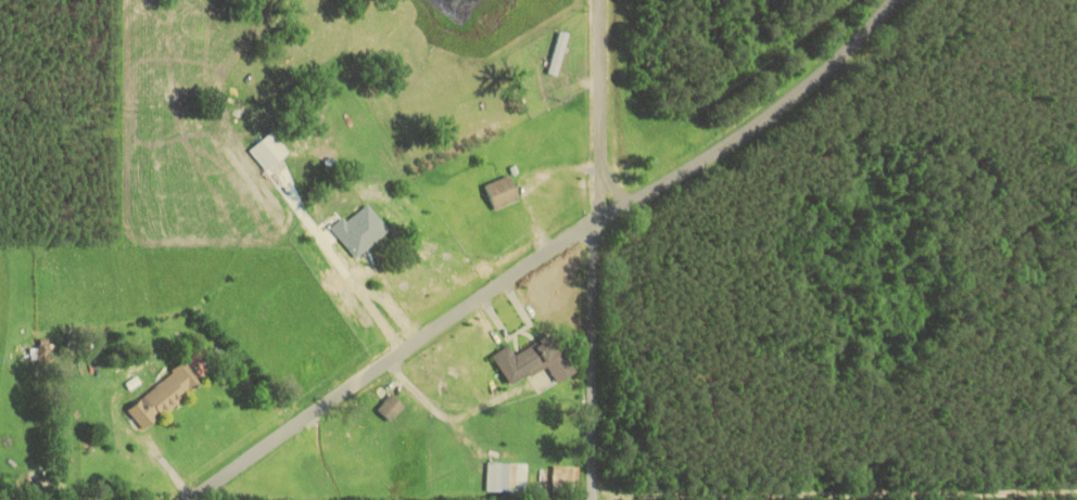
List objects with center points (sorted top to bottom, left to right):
building: (557, 56)
road: (598, 108)
building: (266, 153)
building: (497, 195)
building: (359, 234)
road: (520, 269)
road: (603, 358)
building: (530, 363)
road: (101, 373)
building: (161, 397)
building: (385, 411)
building: (354, 439)
building: (505, 479)
building: (563, 482)

